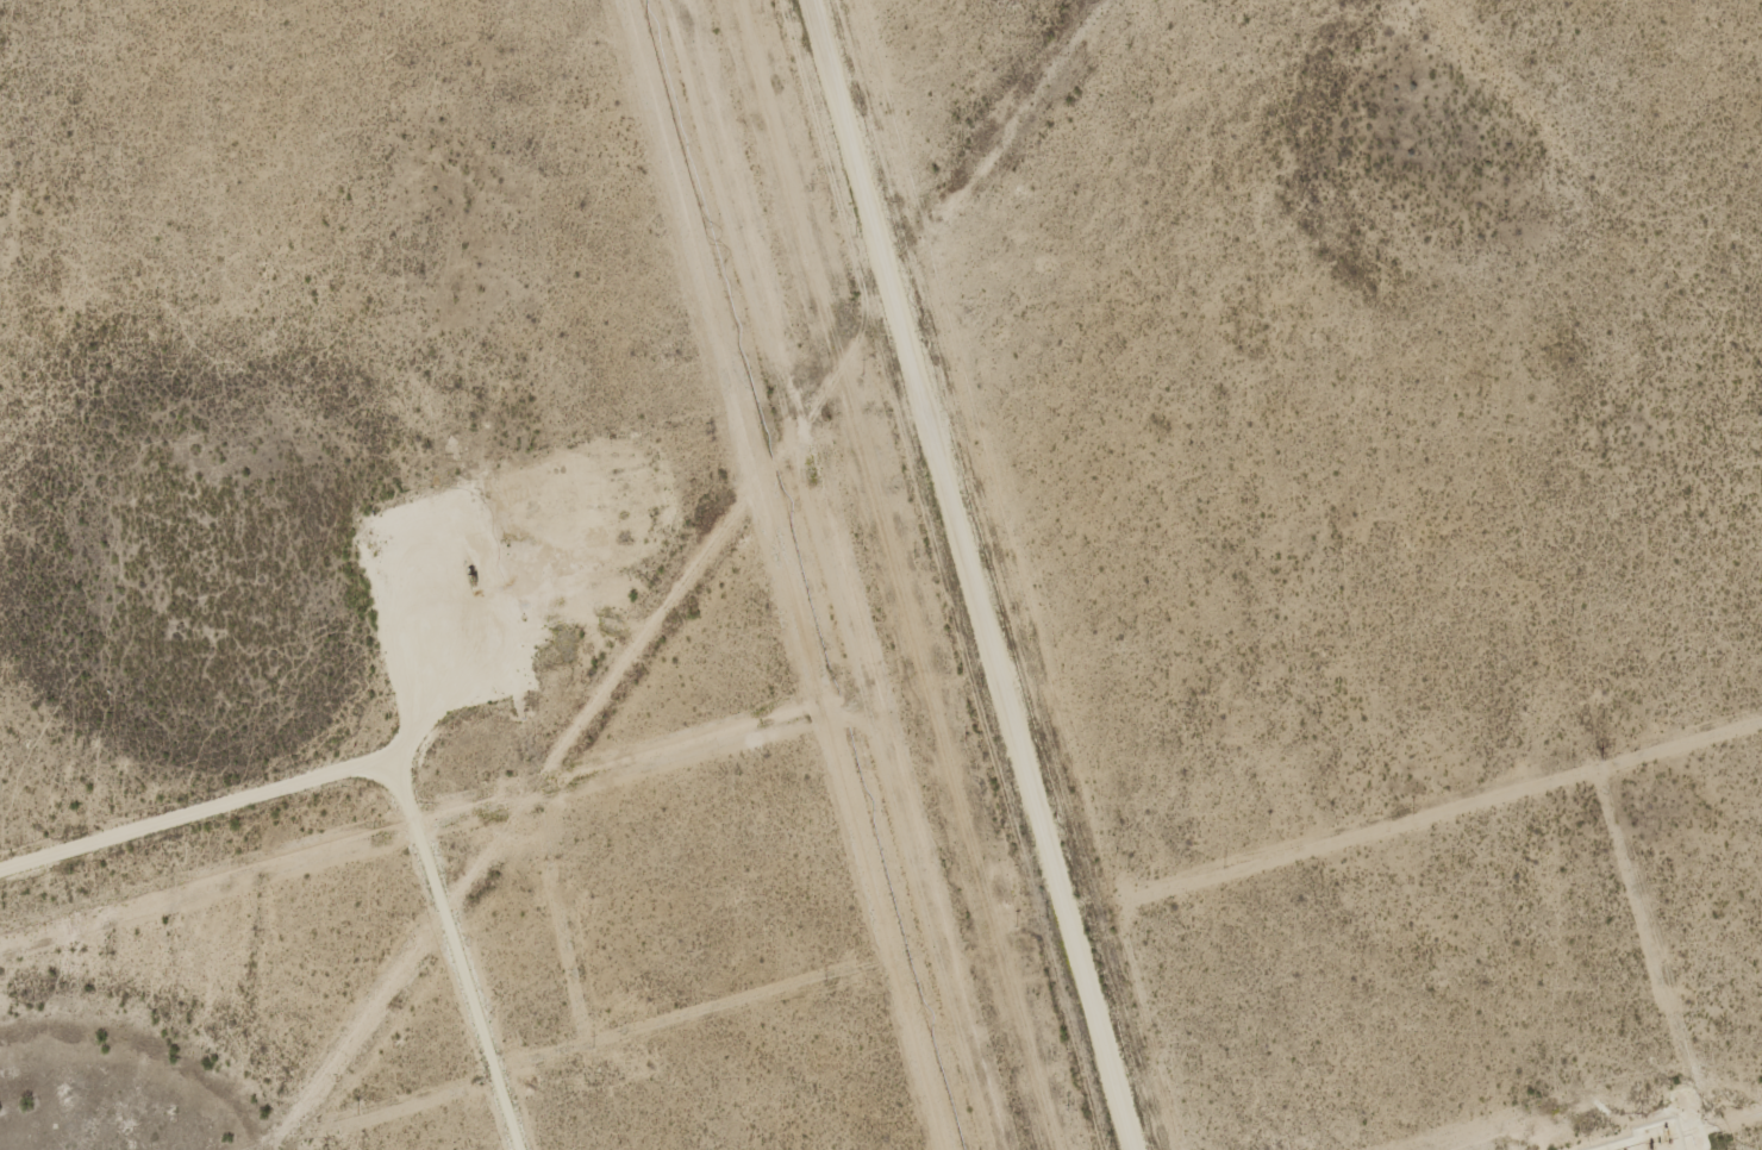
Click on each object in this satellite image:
road: (964, 575)

